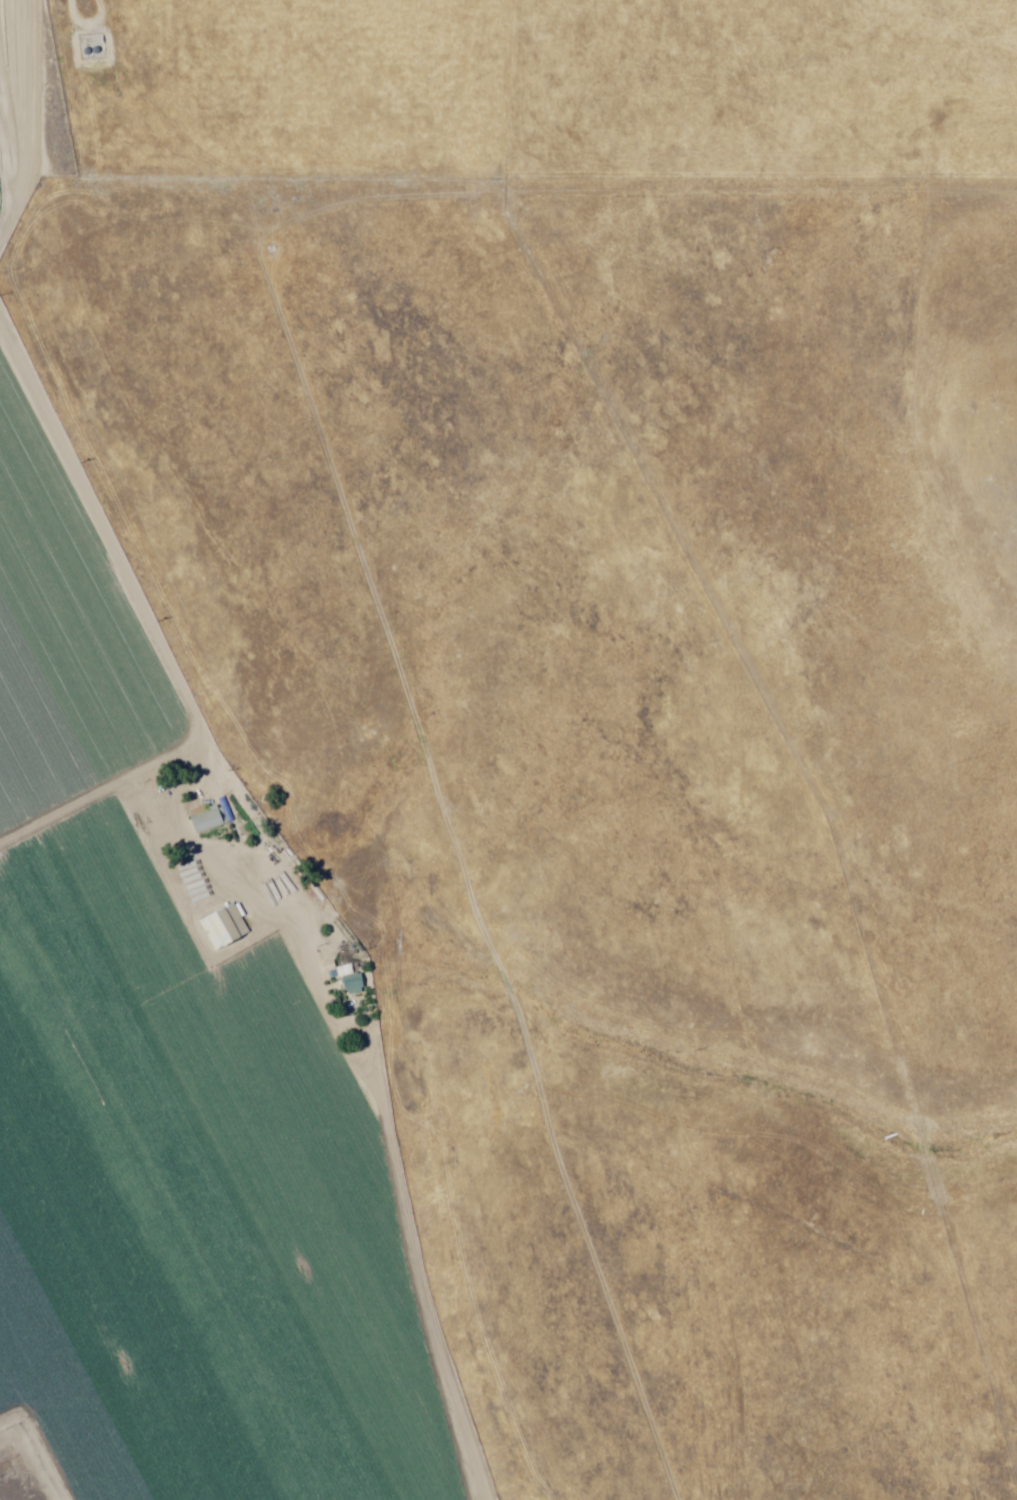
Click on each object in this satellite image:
building: (205, 822)
building: (223, 928)
building: (349, 983)
road: (289, 992)
crop: (169, 1088)
road: (42, 1176)

